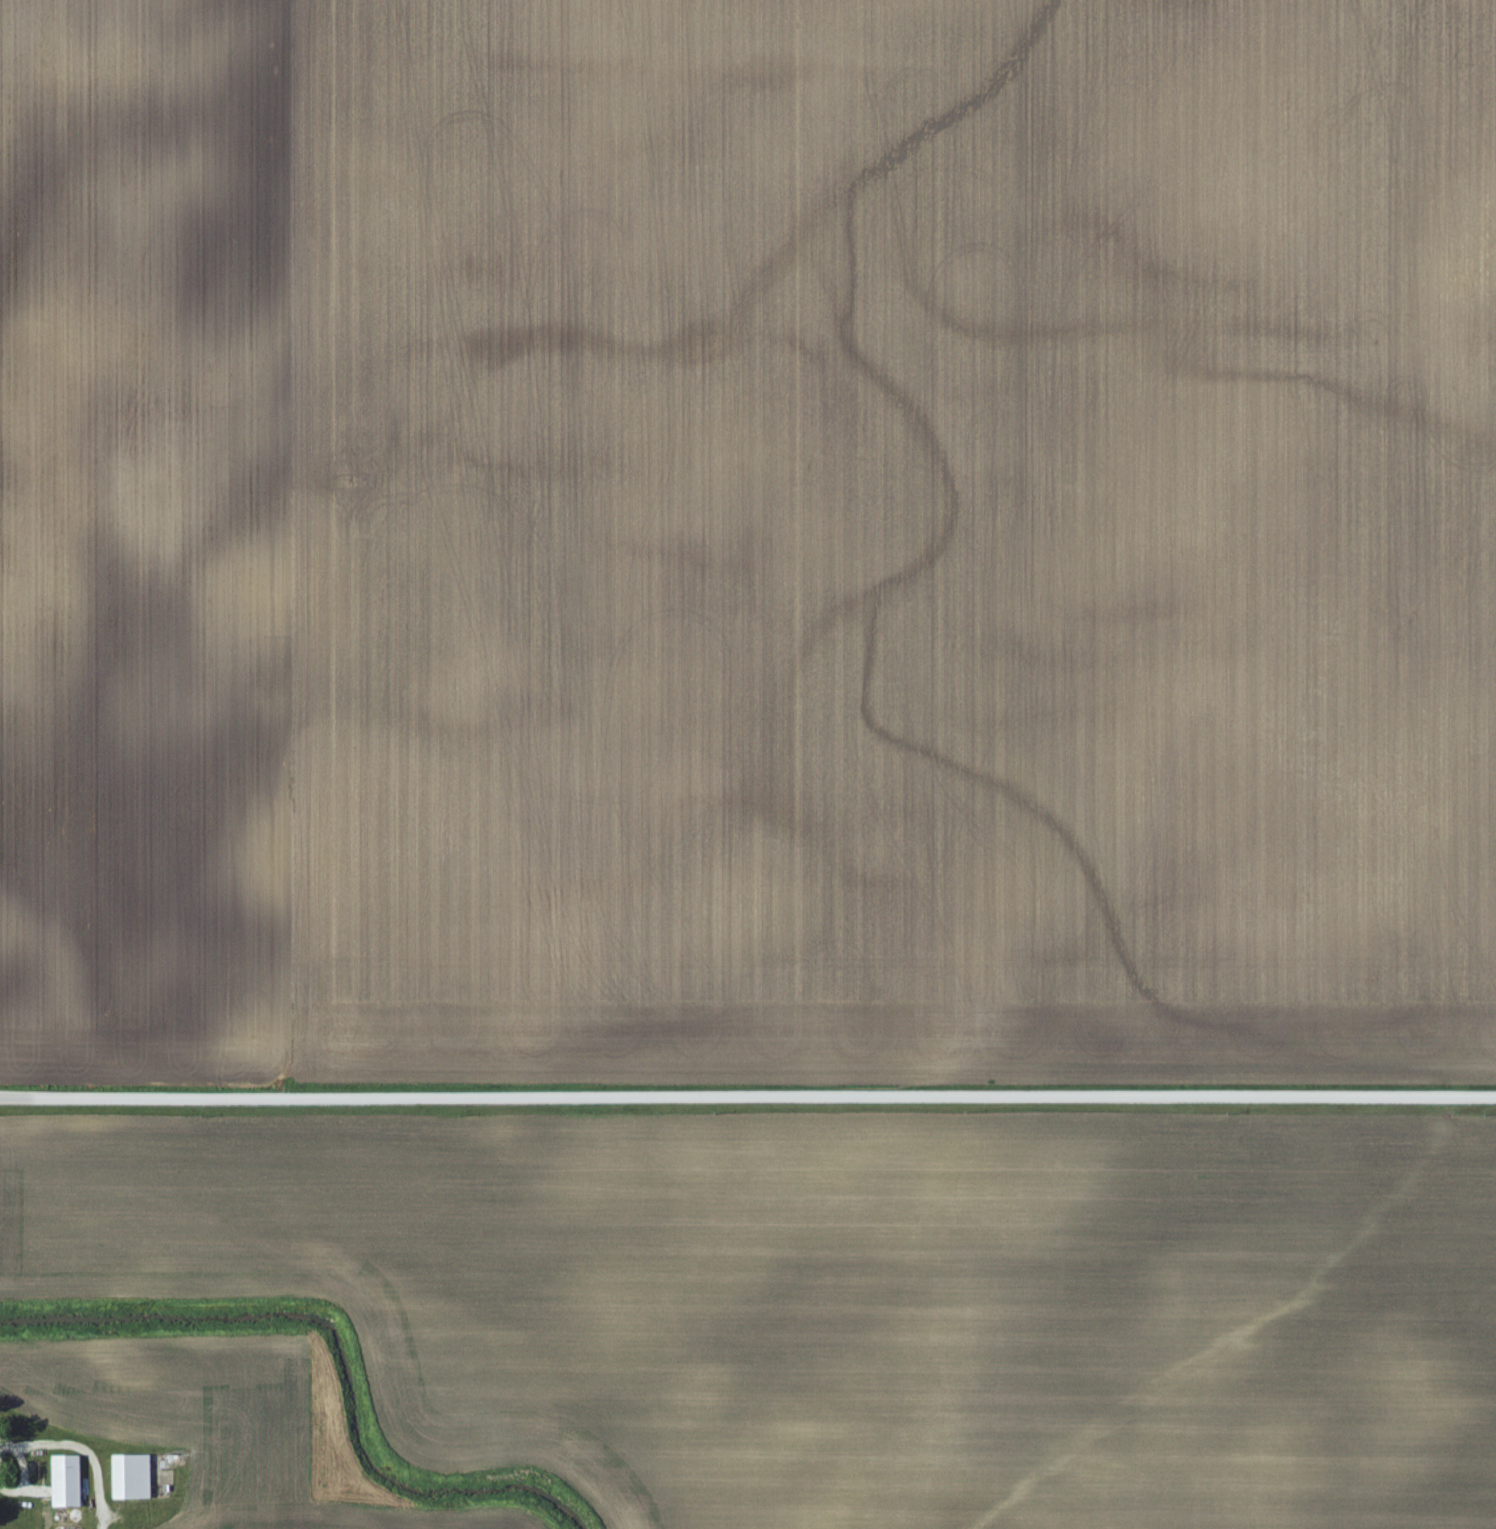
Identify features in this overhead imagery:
road: (748, 1096)
road: (17, 1443)
building: (129, 1476)
building: (64, 1480)

